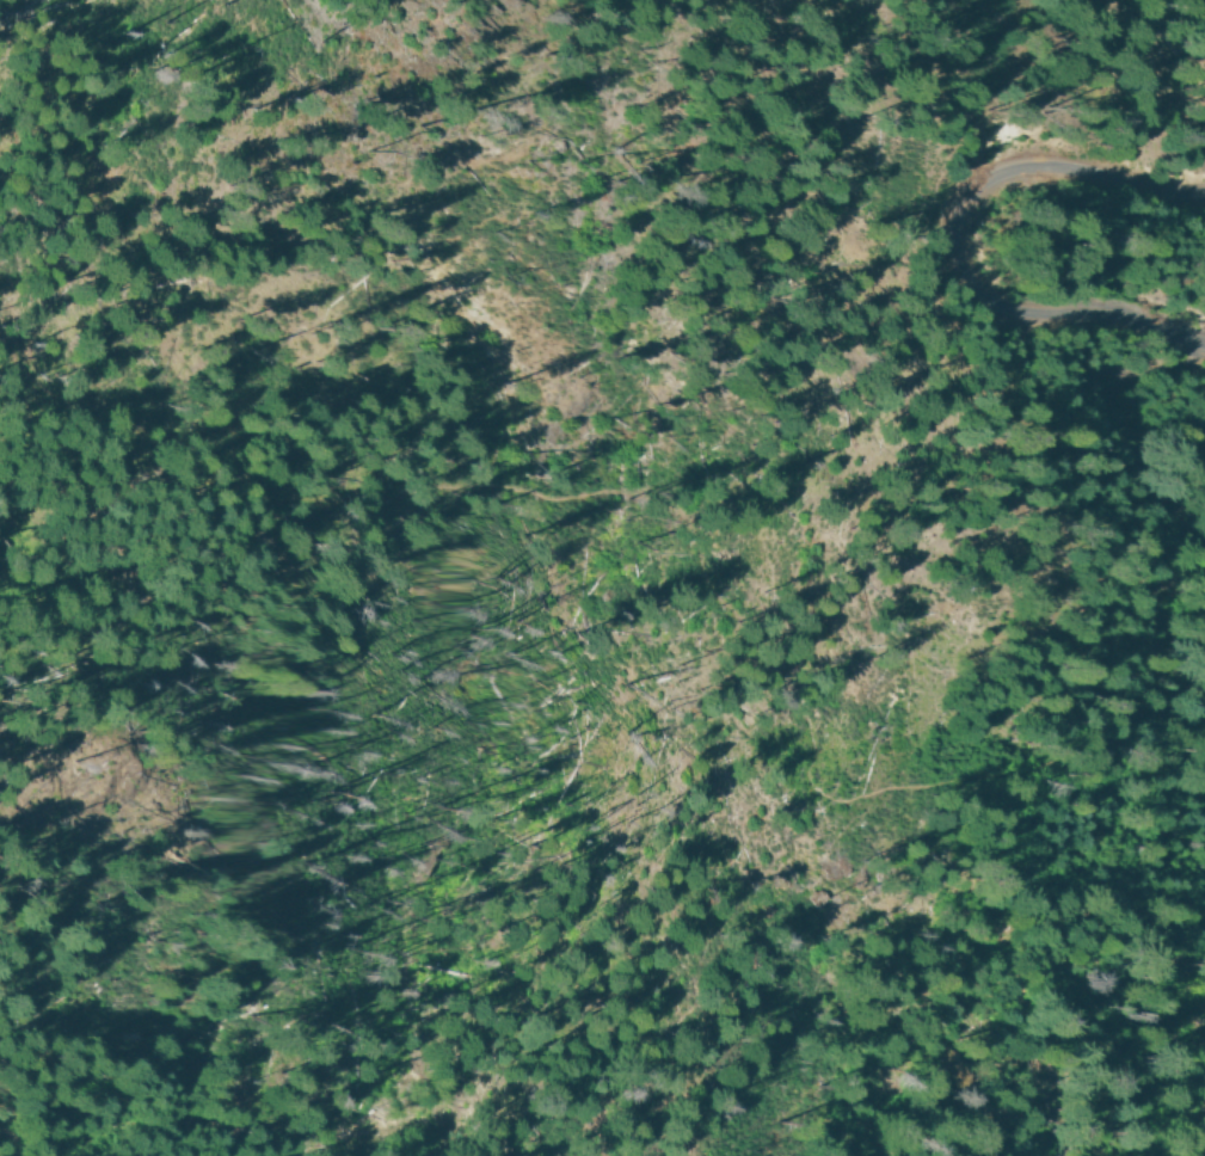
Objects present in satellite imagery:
road: (933, 233)
road: (168, 1129)

